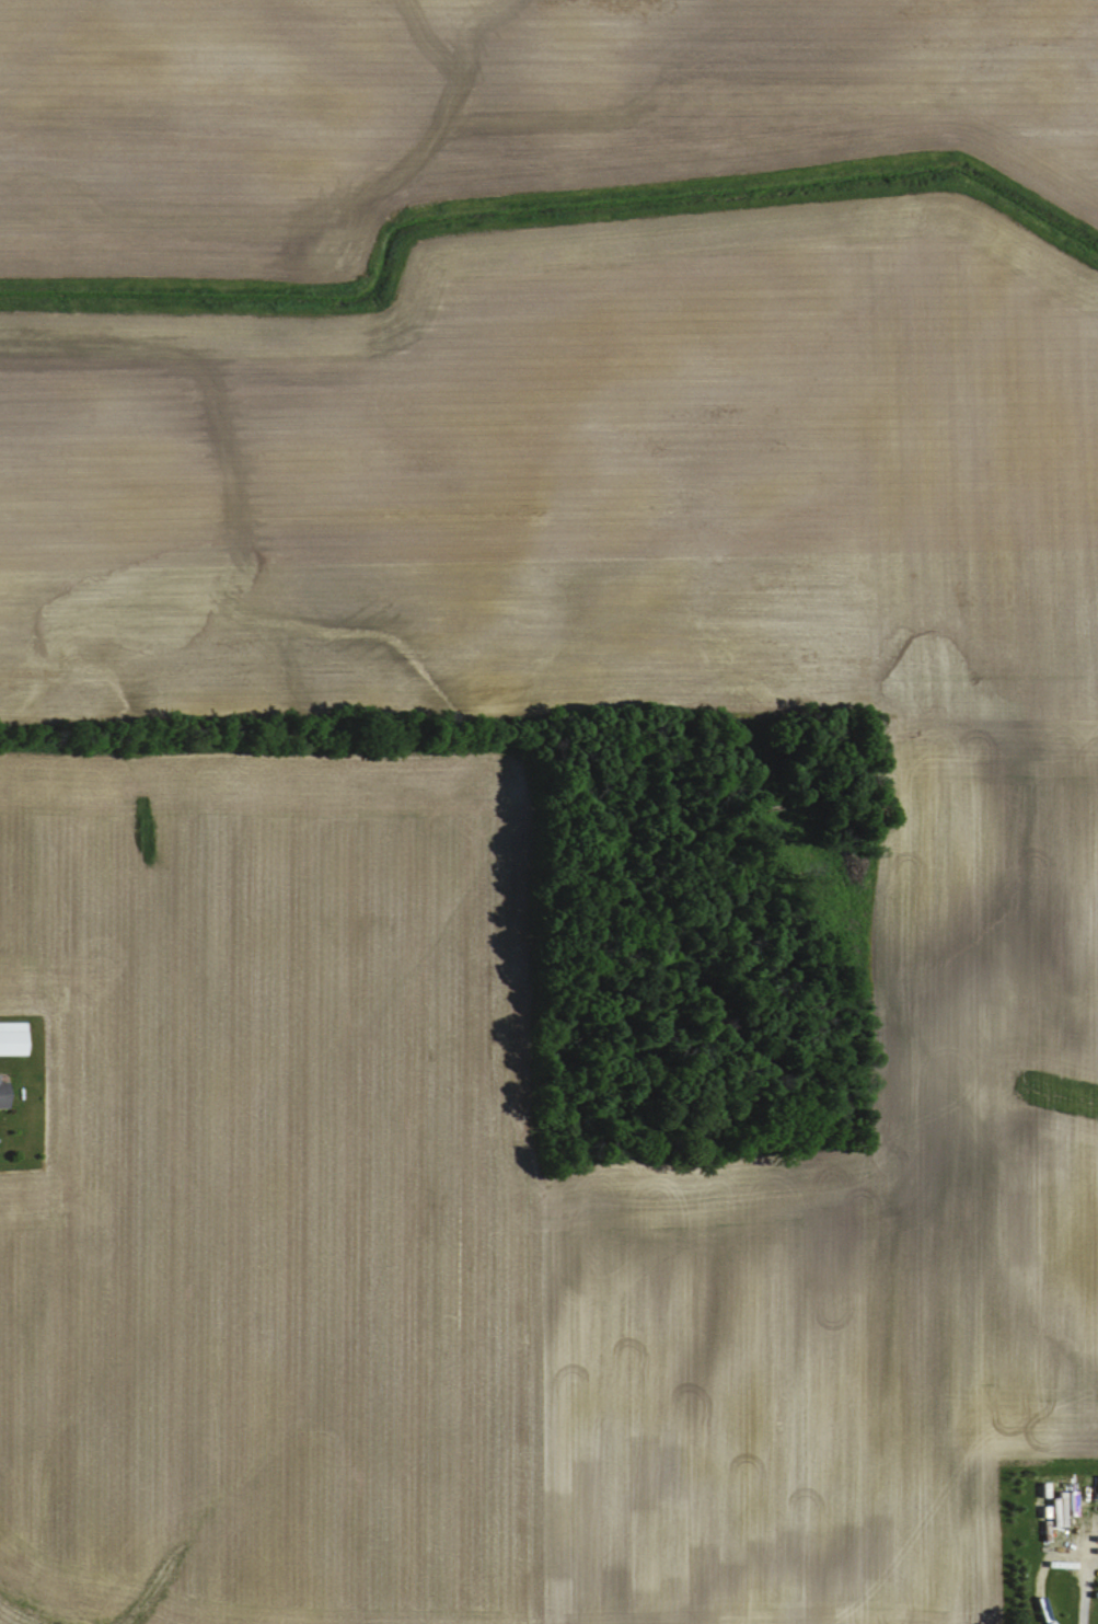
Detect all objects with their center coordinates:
building: (12, 1038)
building: (2, 1094)
building: (1051, 1507)
road: (1085, 1586)

